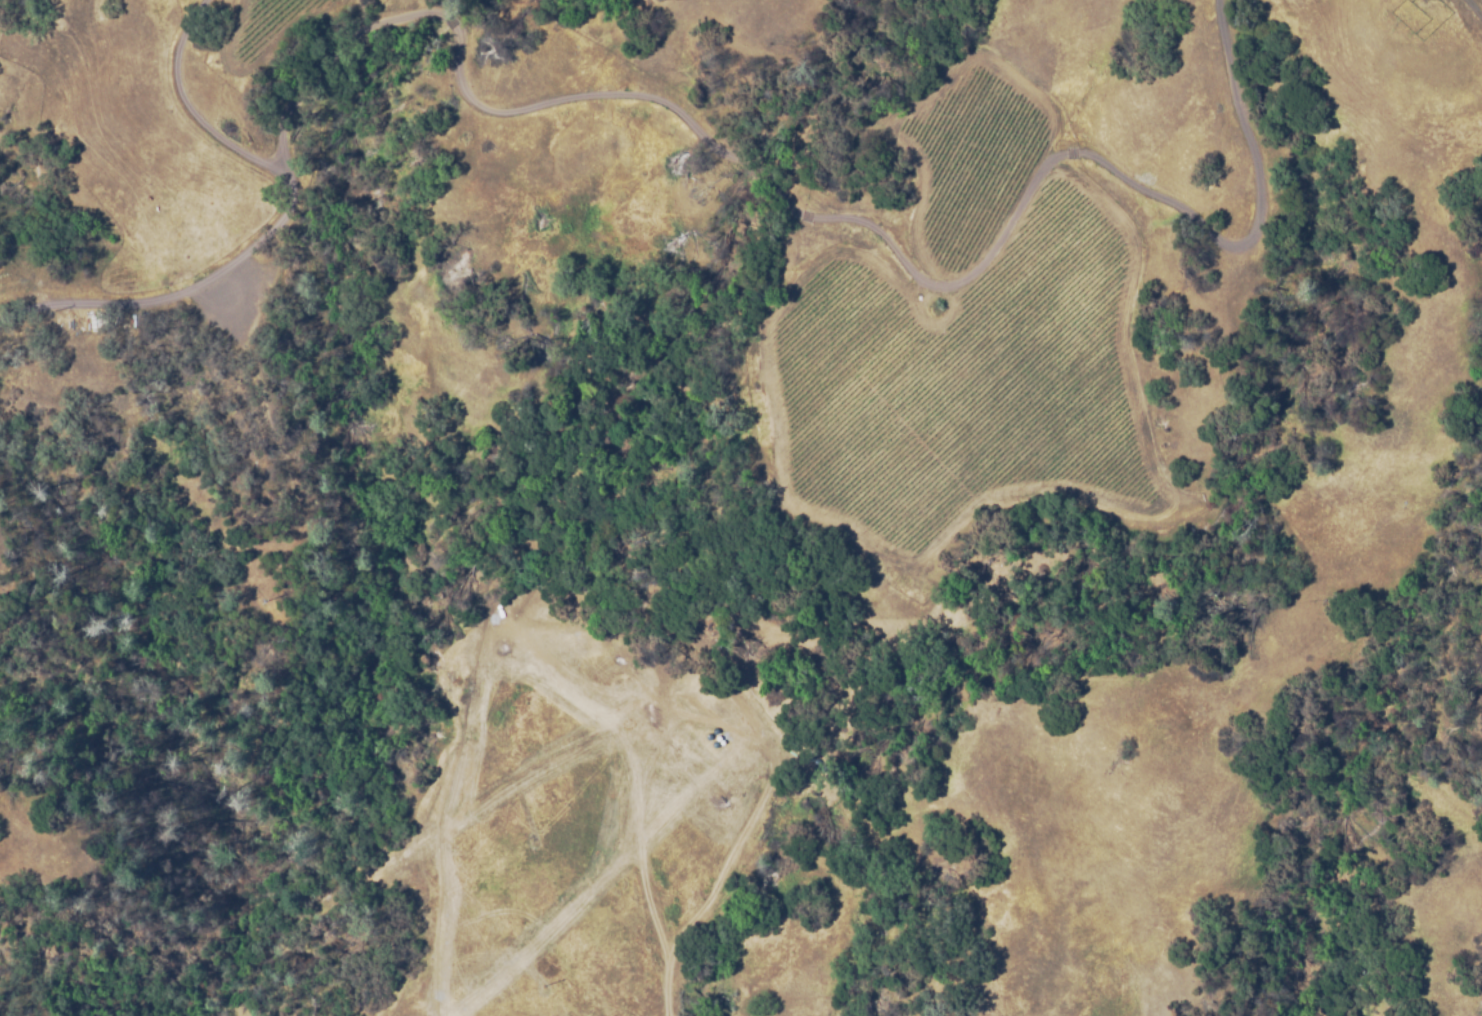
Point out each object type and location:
road: (1, 528)

